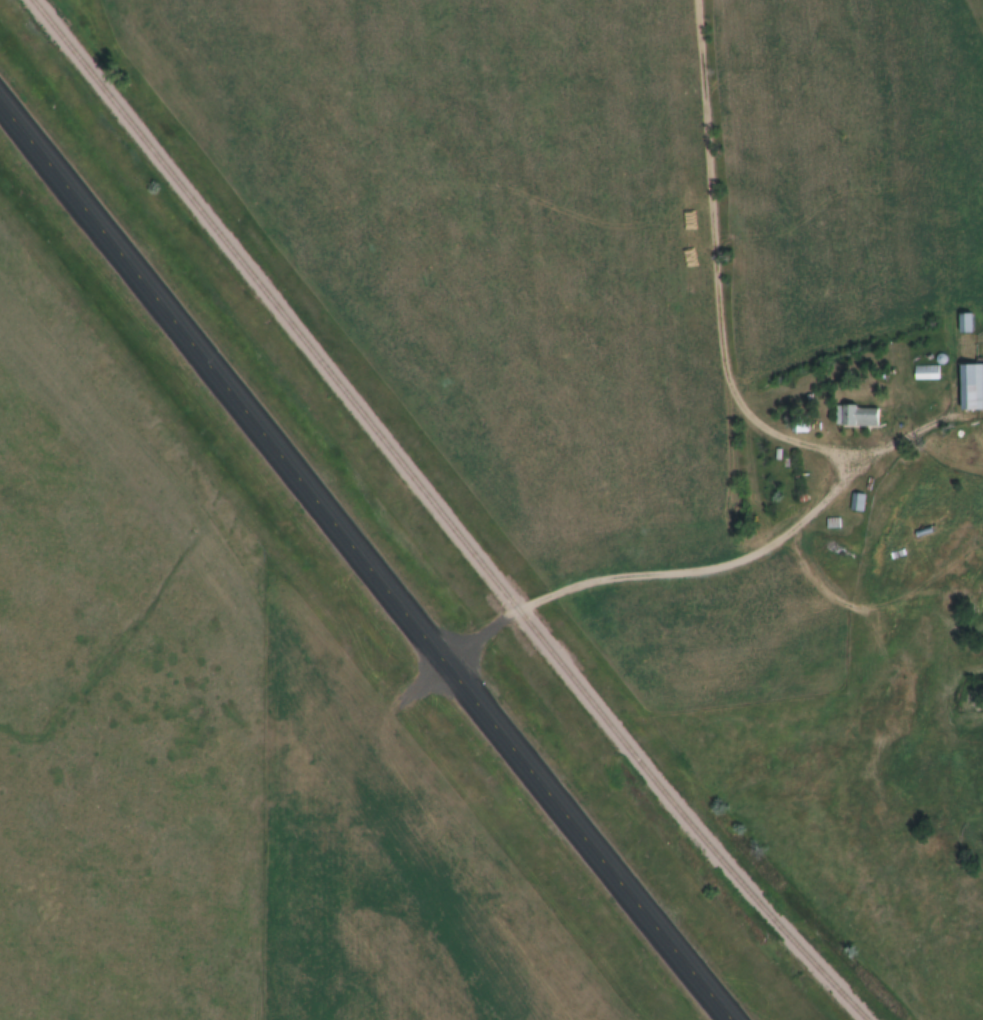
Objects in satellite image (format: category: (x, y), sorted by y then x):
building: (962, 324)
building: (923, 373)
building: (969, 389)
building: (853, 418)
building: (854, 504)
railway: (440, 515)
road: (684, 563)
road: (365, 566)
building: (980, 599)

